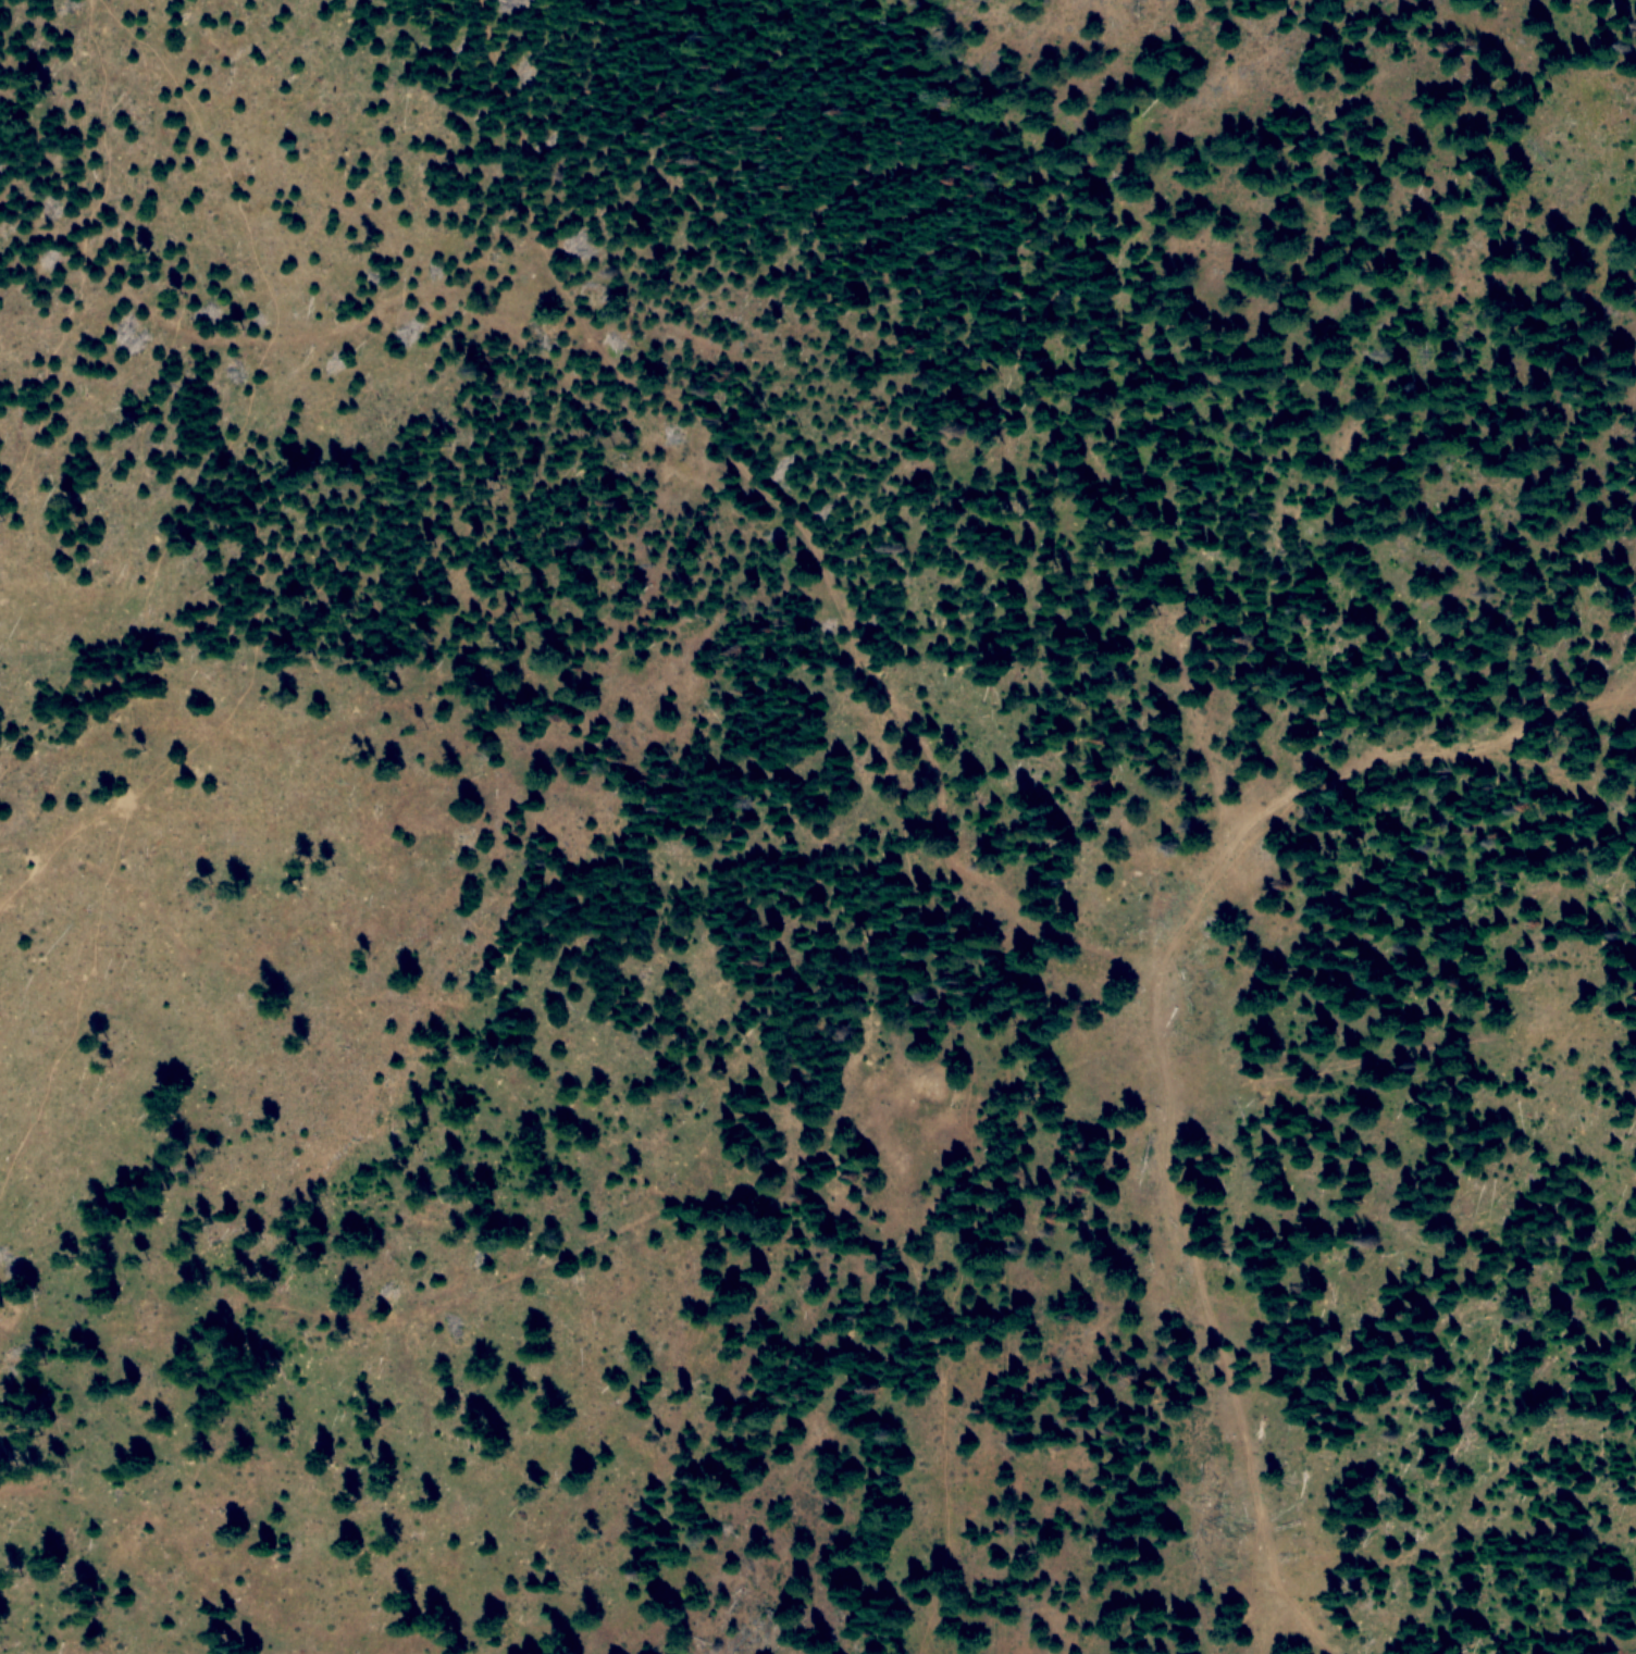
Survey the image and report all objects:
road: (925, 824)
road: (1272, 1627)

